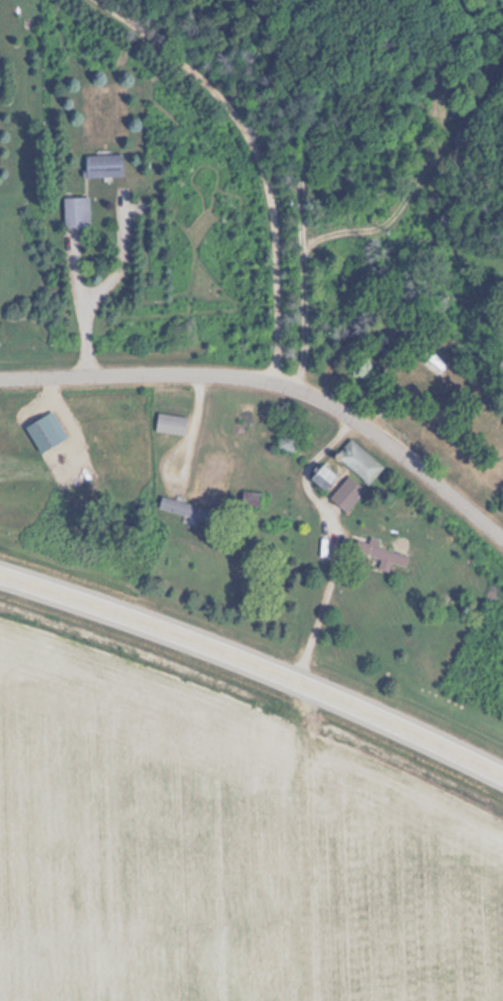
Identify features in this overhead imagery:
road: (319, 111)
road: (256, 157)
building: (101, 165)
road: (421, 179)
road: (134, 206)
building: (73, 211)
road: (75, 267)
road: (106, 284)
building: (431, 361)
road: (277, 382)
building: (169, 423)
building: (45, 429)
building: (356, 461)
building: (313, 475)
building: (325, 476)
building: (343, 494)
building: (251, 498)
building: (172, 505)
building: (376, 553)
road: (255, 663)
crop: (224, 843)

